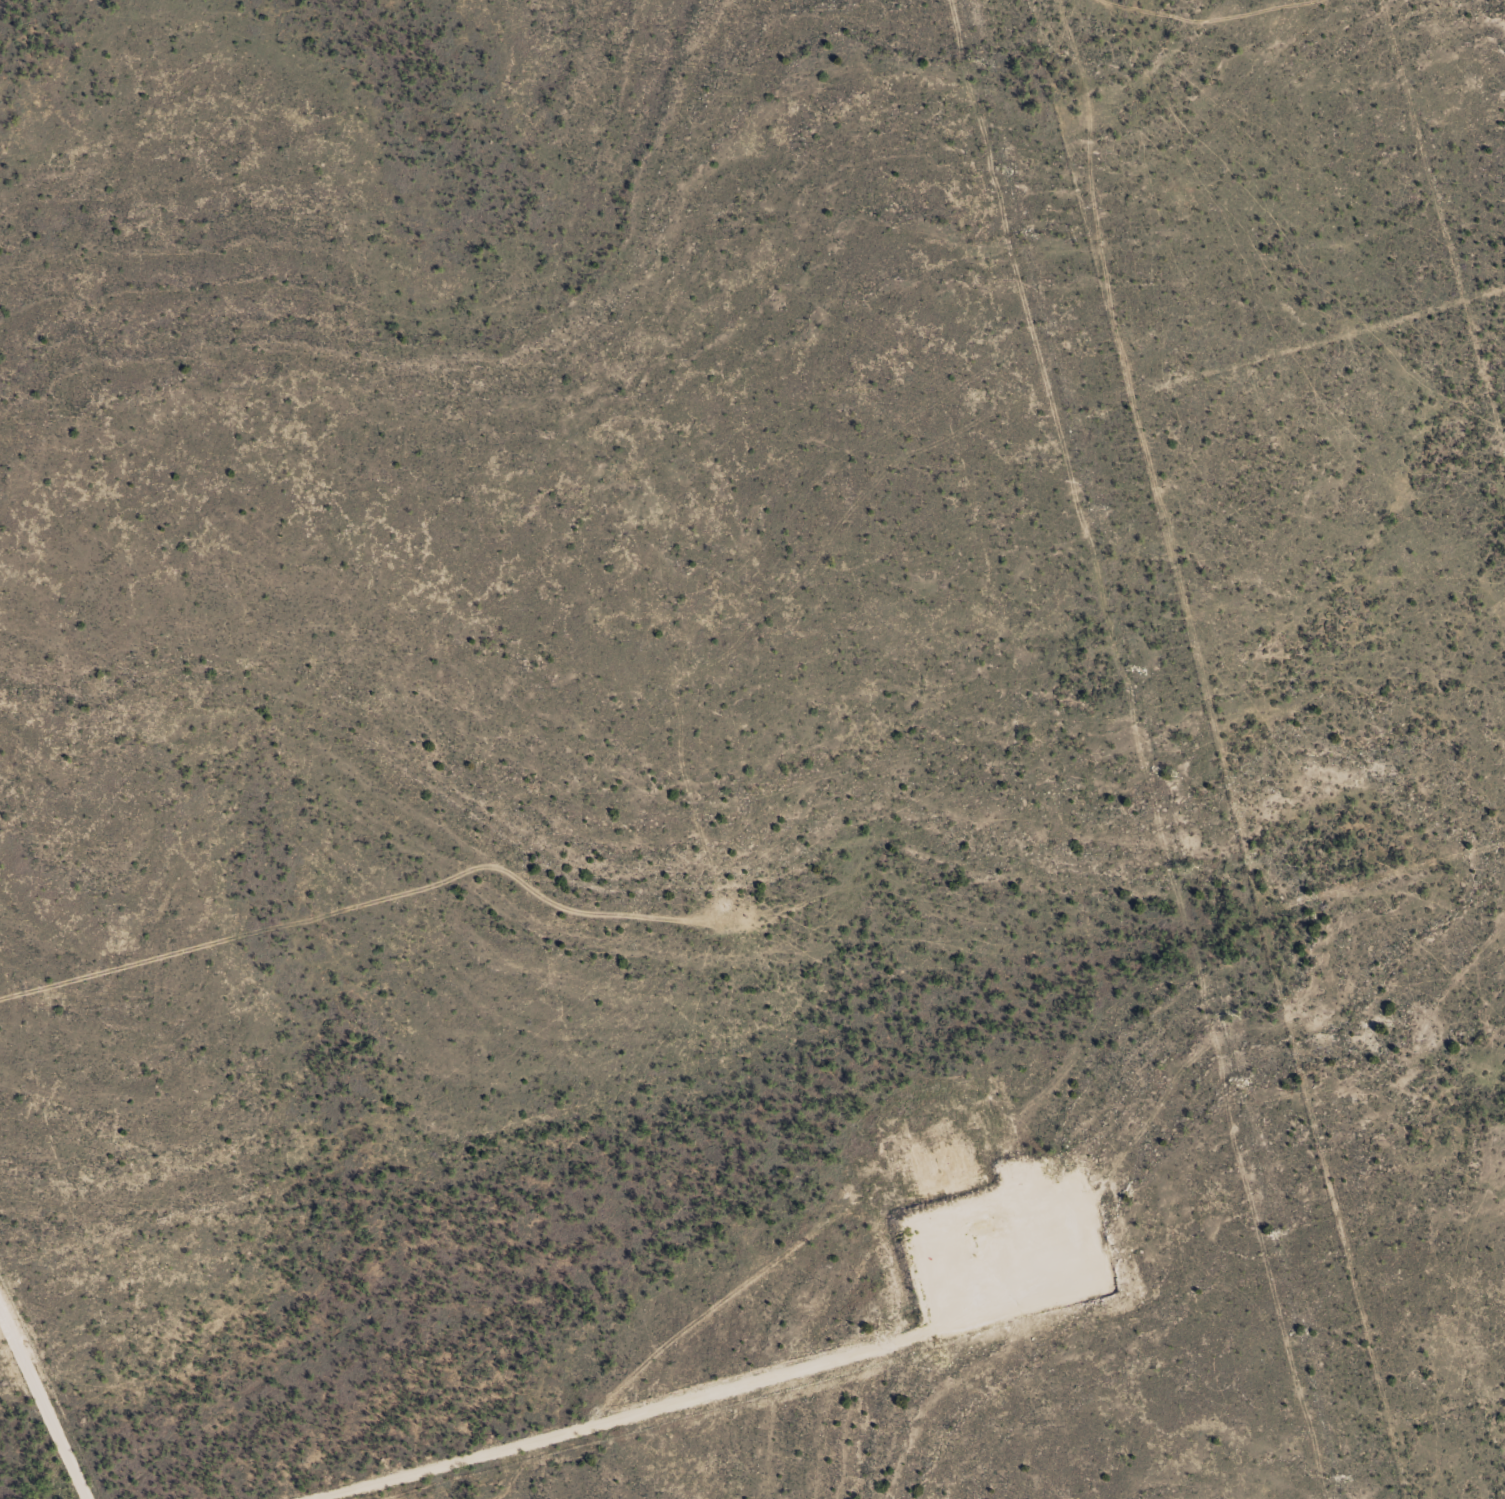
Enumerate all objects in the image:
road: (38, 1421)

